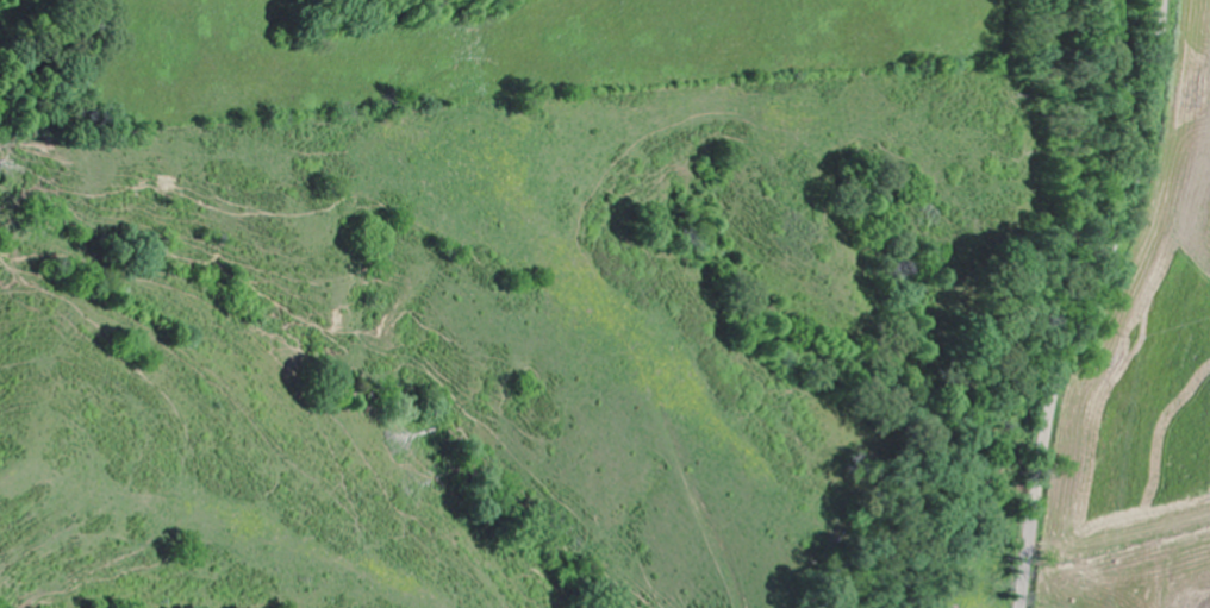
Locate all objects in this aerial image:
road: (1086, 302)

